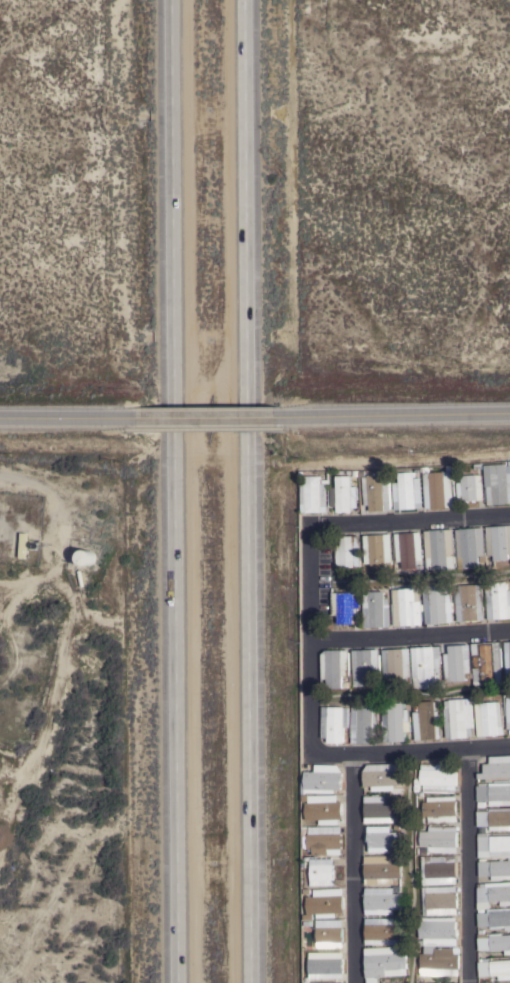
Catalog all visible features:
road: (406, 415)
road: (214, 418)
road: (63, 419)
building: (498, 484)
building: (470, 488)
building: (438, 490)
road: (173, 491)
road: (249, 491)
building: (407, 491)
building: (377, 492)
building: (344, 494)
building: (313, 495)
road: (409, 518)
building: (498, 542)
building: (471, 547)
building: (408, 549)
building: (439, 549)
building: (377, 550)
building: (348, 552)
building: (87, 557)
building: (498, 601)
building: (438, 603)
building: (470, 603)
building: (344, 606)
building: (407, 607)
building: (376, 610)
road: (410, 634)
road: (311, 640)
building: (507, 657)
building: (457, 663)
building: (487, 663)
building: (396, 665)
building: (365, 666)
building: (334, 667)
building: (426, 667)
building: (507, 712)
building: (458, 719)
building: (489, 719)
building: (427, 721)
building: (395, 722)
building: (334, 723)
building: (364, 724)
road: (411, 753)
building: (496, 767)
building: (382, 776)
building: (438, 778)
building: (322, 780)
building: (494, 793)
building: (324, 809)
building: (380, 809)
building: (440, 809)
building: (494, 818)
building: (382, 839)
building: (439, 839)
building: (325, 840)
building: (493, 845)
road: (467, 866)
building: (381, 869)
building: (495, 869)
road: (352, 870)
building: (438, 870)
building: (322, 872)
building: (494, 892)
building: (380, 901)
building: (439, 901)
building: (326, 902)
building: (494, 918)
building: (382, 931)
building: (329, 933)
building: (493, 942)
building: (429, 946)
building: (384, 962)
building: (325, 965)
building: (494, 968)
building: (471, 979)

